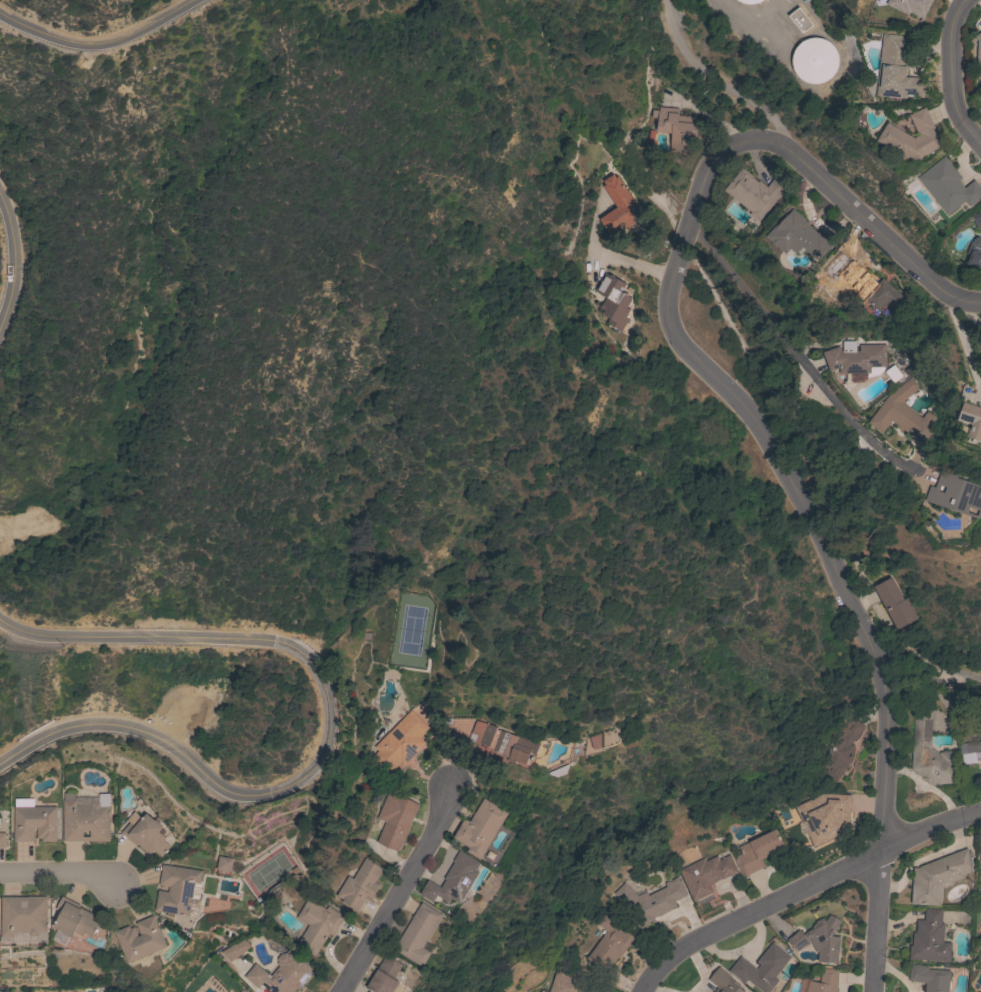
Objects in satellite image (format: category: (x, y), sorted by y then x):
building: (750, 1)
building: (911, 6)
building: (799, 20)
road: (98, 44)
building: (978, 48)
building: (814, 60)
building: (897, 68)
road: (949, 74)
building: (980, 109)
building: (677, 127)
building: (912, 137)
building: (949, 186)
building: (755, 192)
building: (619, 208)
building: (977, 219)
building: (797, 236)
building: (974, 254)
road: (609, 261)
road: (12, 265)
building: (865, 284)
building: (613, 301)
road: (962, 345)
building: (980, 345)
road: (793, 352)
road: (692, 359)
building: (861, 360)
building: (902, 414)
building: (972, 419)
building: (955, 494)
building: (894, 603)
road: (925, 669)
road: (328, 733)
building: (595, 741)
building: (399, 742)
building: (506, 744)
building: (844, 745)
building: (969, 752)
building: (930, 754)
building: (559, 770)
building: (825, 815)
building: (85, 818)
building: (395, 819)
building: (34, 823)
building: (481, 828)
building: (146, 835)
building: (2, 840)
building: (757, 851)
building: (980, 857)
building: (224, 863)
building: (705, 874)
road: (56, 875)
building: (938, 877)
building: (454, 880)
building: (359, 885)
building: (177, 890)
road: (803, 890)
road: (393, 900)
building: (651, 901)
building: (980, 902)
building: (23, 915)
building: (74, 918)
road: (876, 924)
building: (317, 925)
building: (419, 934)
building: (929, 938)
building: (141, 939)
building: (820, 939)
building: (610, 943)
building: (234, 951)
building: (761, 968)
building: (281, 974)
building: (385, 976)
building: (929, 977)
building: (723, 981)
building: (566, 982)
building: (824, 982)
building: (0, 991)
building: (242, 991)

